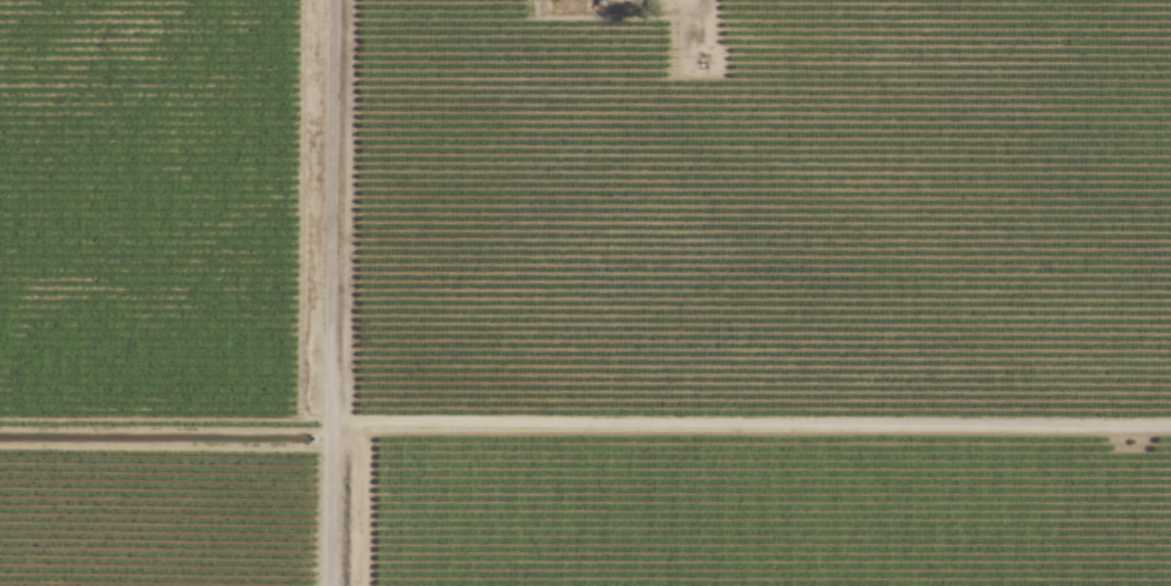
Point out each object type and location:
building: (614, 0)
road: (334, 230)
road: (334, 470)
road: (333, 534)

